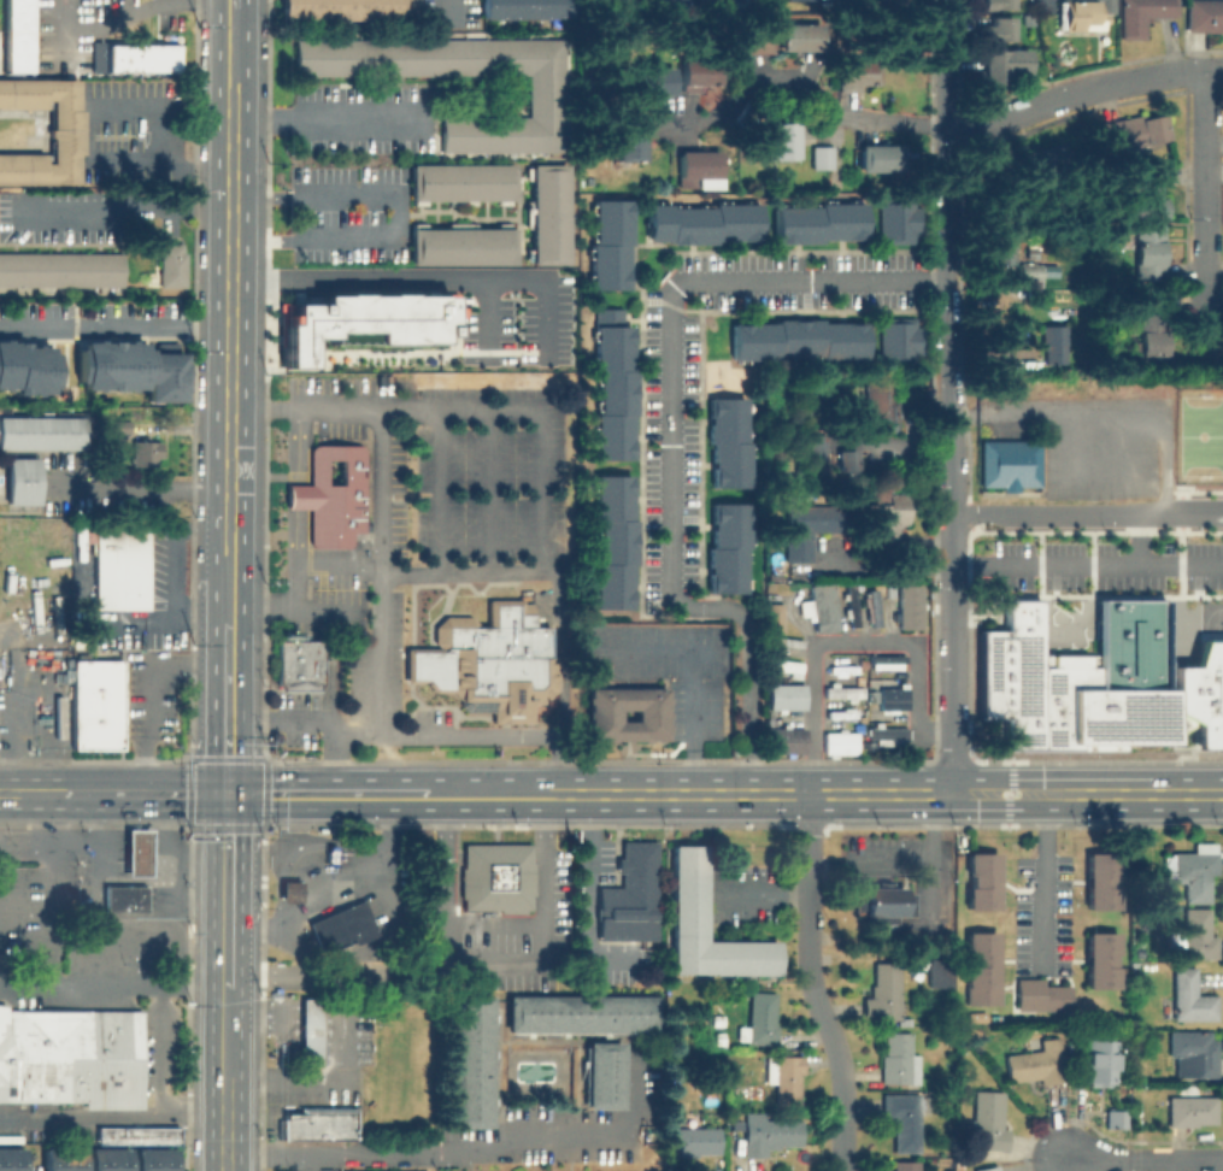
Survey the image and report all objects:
building: (710, 0)
building: (733, 0)
road: (447, 1)
road: (231, 4)
building: (998, 4)
road: (127, 5)
building: (348, 8)
building: (527, 8)
building: (86, 10)
building: (1083, 13)
building: (1142, 14)
building: (1205, 16)
building: (1028, 19)
building: (999, 28)
building: (47, 34)
building: (17, 35)
building: (801, 36)
building: (749, 39)
road: (231, 45)
building: (88, 52)
building: (141, 57)
building: (1005, 63)
building: (857, 76)
building: (698, 77)
building: (654, 83)
road: (801, 88)
road: (1081, 92)
building: (546, 94)
road: (331, 117)
building: (63, 128)
road: (101, 131)
building: (1133, 131)
building: (631, 137)
building: (769, 143)
building: (823, 157)
building: (878, 157)
building: (1041, 160)
building: (696, 167)
road: (1207, 177)
building: (463, 181)
building: (1146, 189)
road: (120, 210)
building: (549, 213)
road: (401, 214)
building: (900, 226)
building: (706, 228)
building: (822, 229)
building: (463, 246)
building: (613, 248)
building: (1147, 248)
building: (1005, 249)
building: (61, 269)
building: (165, 271)
building: (1031, 273)
road: (422, 281)
road: (230, 316)
building: (1154, 317)
building: (363, 319)
road: (483, 322)
road: (114, 328)
building: (799, 339)
building: (896, 341)
building: (1053, 342)
building: (25, 367)
building: (128, 369)
building: (612, 386)
road: (947, 395)
building: (878, 408)
building: (120, 424)
building: (41, 432)
park: (1198, 435)
road: (670, 440)
building: (727, 442)
road: (299, 445)
building: (146, 451)
building: (845, 459)
building: (1009, 463)
building: (23, 481)
road: (141, 489)
road: (378, 492)
road: (436, 492)
road: (489, 492)
road: (299, 496)
building: (333, 498)
road: (1196, 511)
road: (1059, 512)
building: (886, 520)
building: (807, 528)
building: (612, 540)
building: (727, 547)
road: (539, 552)
road: (884, 563)
road: (1045, 563)
road: (1157, 563)
building: (122, 567)
road: (170, 570)
road: (228, 583)
road: (298, 587)
building: (819, 607)
building: (911, 607)
building: (871, 611)
building: (776, 617)
road: (845, 640)
building: (1131, 642)
road: (654, 648)
building: (1213, 648)
building: (484, 661)
building: (296, 663)
building: (888, 663)
building: (786, 667)
building: (887, 683)
building: (842, 690)
road: (147, 694)
building: (627, 698)
building: (786, 698)
building: (889, 698)
building: (98, 704)
road: (227, 704)
building: (842, 714)
road: (282, 717)
road: (689, 722)
road: (495, 734)
building: (887, 736)
building: (786, 741)
building: (840, 742)
road: (23, 793)
road: (59, 793)
road: (1133, 793)
road: (148, 794)
traffic signals: (227, 794)
road: (325, 794)
road: (734, 794)
building: (139, 853)
road: (225, 858)
building: (1193, 870)
building: (499, 878)
road: (1041, 878)
building: (1098, 878)
building: (978, 879)
road: (331, 885)
building: (292, 892)
road: (760, 892)
road: (51, 894)
building: (125, 894)
road: (587, 894)
building: (690, 894)
building: (630, 896)
building: (883, 902)
road: (495, 923)
building: (345, 925)
building: (1199, 935)
road: (137, 941)
road: (225, 954)
building: (1098, 959)
building: (978, 967)
building: (934, 970)
road: (300, 972)
road: (810, 984)
road: (78, 987)
road: (190, 987)
building: (884, 993)
building: (1039, 995)
building: (1190, 998)
building: (577, 1014)
building: (763, 1019)
road: (281, 1020)
building: (716, 1022)
building: (311, 1030)
road: (225, 1032)
building: (719, 1038)
road: (157, 1048)
building: (69, 1054)
building: (1194, 1054)
building: (896, 1058)
building: (1100, 1061)
building: (470, 1064)
building: (1037, 1064)
building: (600, 1075)
building: (786, 1077)
road: (333, 1078)
road: (112, 1111)
building: (1192, 1111)
building: (1116, 1118)
building: (904, 1120)
building: (988, 1122)
road: (224, 1125)
building: (321, 1126)
building: (134, 1132)
building: (769, 1134)
building: (694, 1142)
road: (464, 1149)
building: (10, 1159)
building: (49, 1159)
building: (70, 1159)
building: (95, 1159)
building: (116, 1159)
building: (141, 1159)
building: (161, 1159)
road: (1143, 1160)
building: (906, 1166)
building: (990, 1167)

